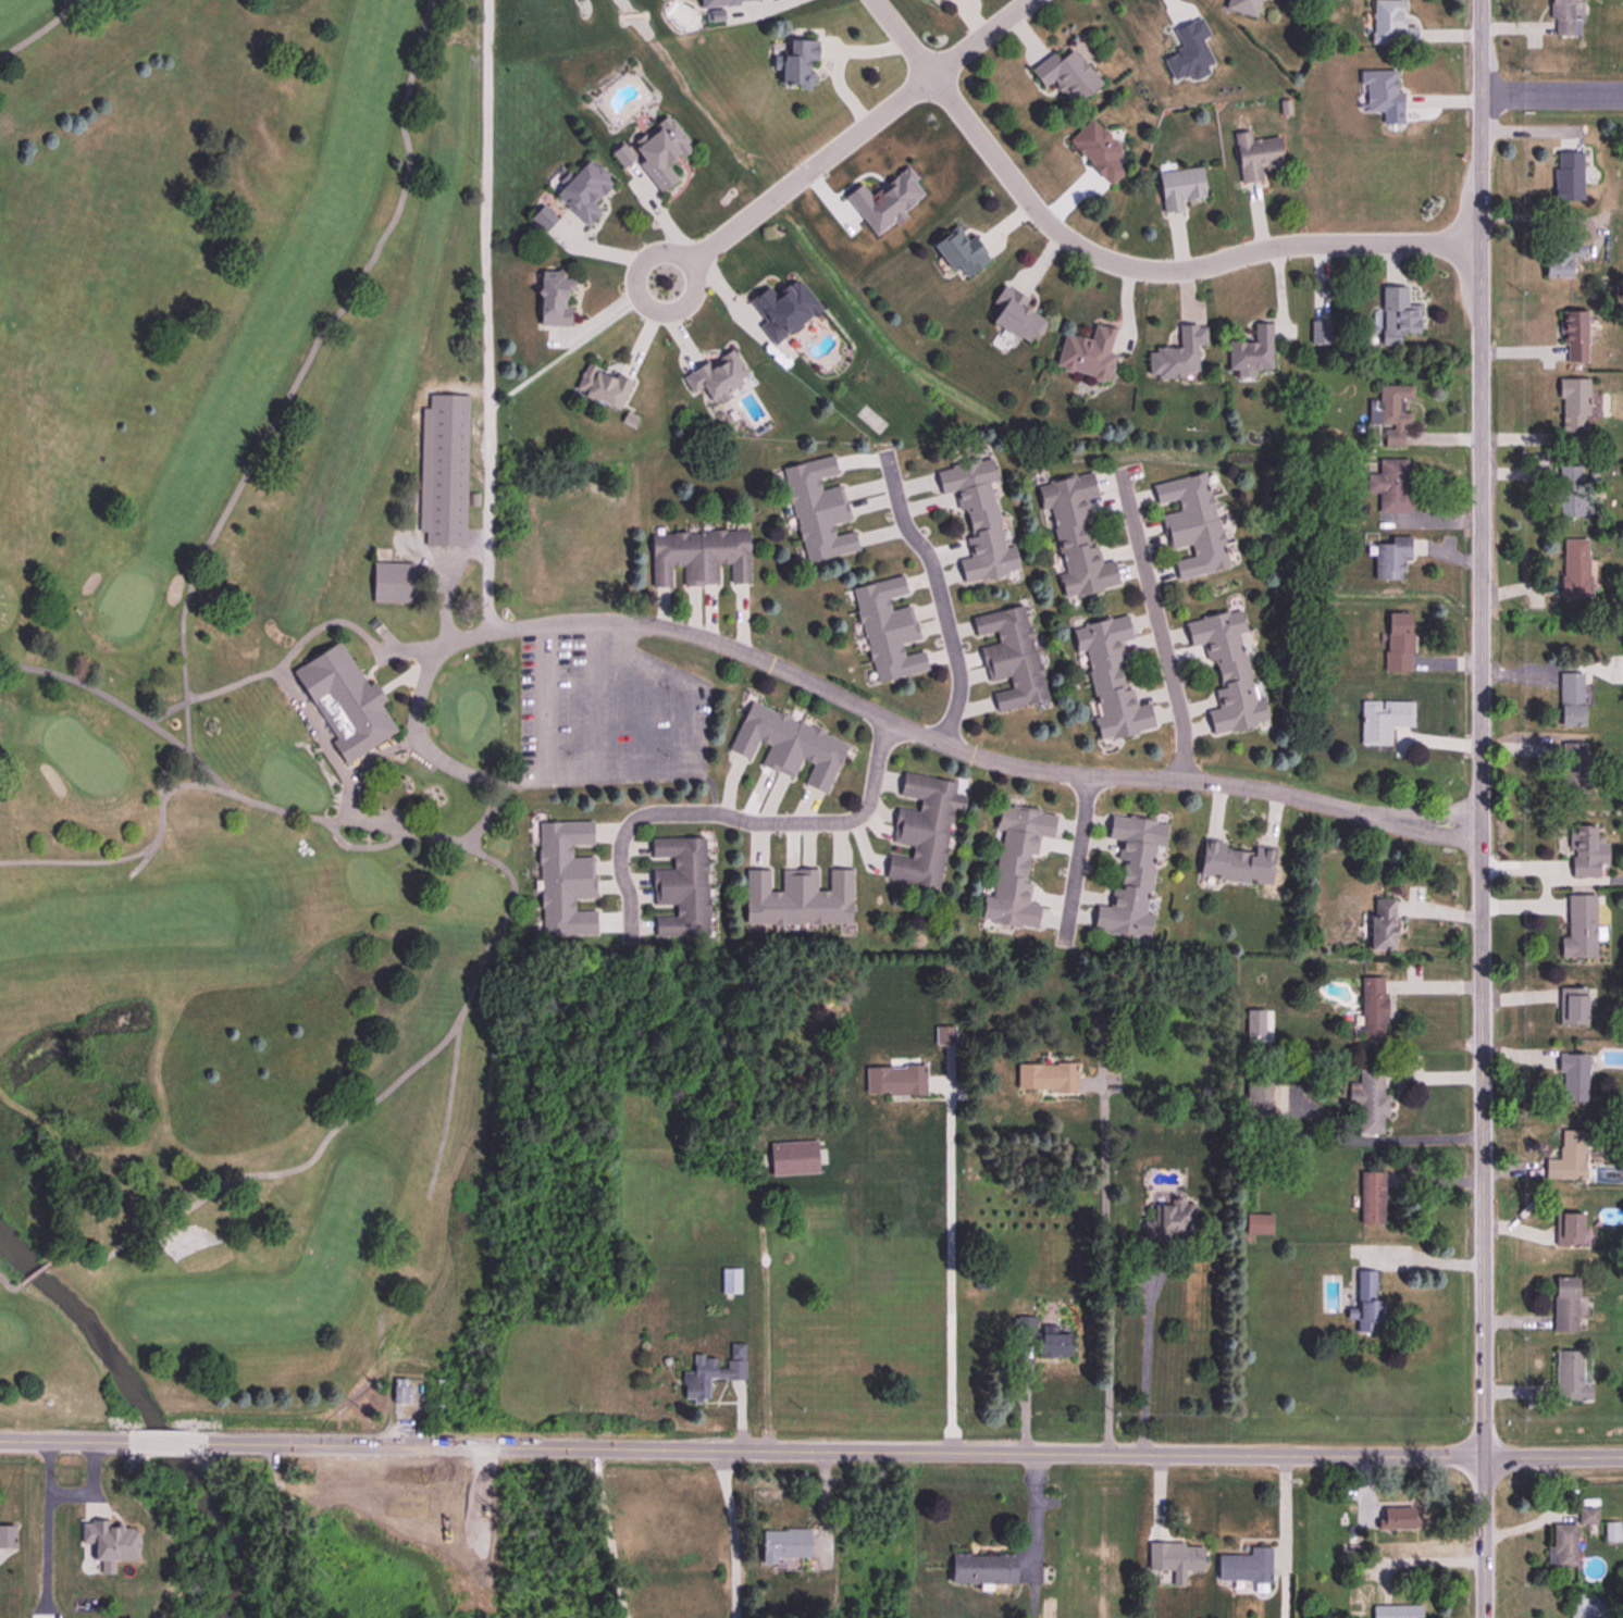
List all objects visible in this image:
building: (941, 0)
building: (723, 2)
building: (1243, 7)
building: (1566, 18)
building: (1389, 25)
road: (46, 27)
road: (982, 40)
building: (797, 63)
building: (1067, 77)
building: (1379, 92)
road: (1551, 94)
building: (1098, 150)
building: (659, 151)
building: (1255, 155)
building: (1568, 176)
road: (798, 183)
building: (1178, 188)
building: (583, 191)
road: (491, 201)
building: (542, 219)
building: (958, 252)
building: (1560, 259)
road: (1119, 263)
building: (553, 299)
building: (783, 309)
building: (1397, 316)
building: (1015, 318)
building: (1574, 337)
building: (1251, 351)
building: (1087, 354)
building: (1178, 354)
building: (716, 377)
building: (603, 388)
building: (1573, 406)
building: (1392, 415)
road: (267, 435)
building: (443, 471)
building: (1390, 486)
building: (1571, 491)
building: (817, 511)
building: (978, 521)
building: (1191, 525)
building: (1075, 535)
building: (698, 557)
building: (1389, 558)
building: (1575, 567)
building: (392, 583)
road: (940, 592)
road: (1157, 628)
building: (887, 631)
building: (1398, 643)
building: (1011, 657)
building: (1227, 672)
road: (253, 676)
building: (1111, 679)
road: (840, 698)
parking lot: (582, 699)
building: (1571, 699)
building: (346, 701)
park: (257, 719)
building: (1384, 723)
road: (321, 736)
building: (788, 747)
road: (445, 759)
building: (1573, 770)
road: (1479, 809)
road: (731, 816)
road: (1440, 817)
building: (922, 831)
road: (1439, 835)
road: (359, 838)
building: (1582, 851)
road: (80, 859)
road: (1075, 859)
building: (1235, 864)
building: (1015, 869)
building: (1131, 879)
building: (565, 880)
building: (681, 887)
building: (798, 899)
building: (1380, 925)
building: (1579, 929)
road: (471, 983)
building: (1572, 1007)
building: (1373, 1008)
building: (1045, 1076)
building: (1573, 1078)
building: (895, 1081)
road: (445, 1097)
building: (1261, 1100)
building: (1368, 1102)
building: (792, 1158)
building: (1568, 1158)
building: (1371, 1198)
building: (1169, 1222)
building: (1257, 1225)
building: (1569, 1230)
road: (946, 1267)
road: (1102, 1267)
building: (730, 1281)
road: (7, 1282)
building: (1365, 1304)
building: (1564, 1305)
building: (1025, 1327)
building: (1053, 1345)
road: (1142, 1362)
building: (713, 1373)
building: (1571, 1380)
building: (399, 1392)
road: (63, 1440)
road: (166, 1441)
road: (914, 1449)
road: (1280, 1514)
road: (1030, 1516)
building: (1587, 1517)
building: (1399, 1520)
road: (603, 1532)
road: (727, 1532)
building: (1611, 1533)
building: (5, 1539)
building: (110, 1543)
building: (1564, 1545)
building: (782, 1546)
building: (1175, 1560)
building: (1244, 1567)
building: (981, 1569)
building: (1589, 1607)
building: (1397, 1611)

